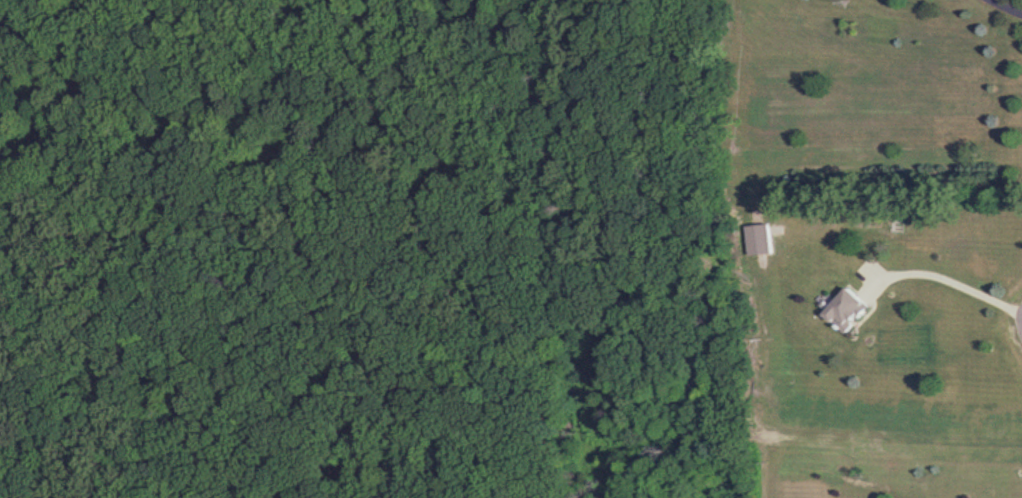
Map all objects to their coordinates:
road: (1006, 5)
building: (765, 241)
road: (946, 280)
building: (853, 310)

